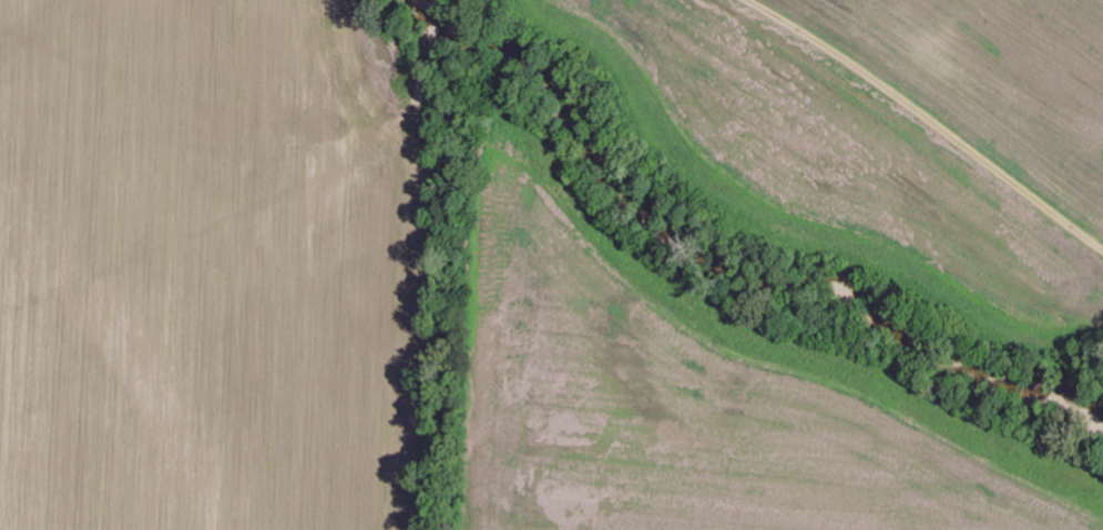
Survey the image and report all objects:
road: (928, 120)

